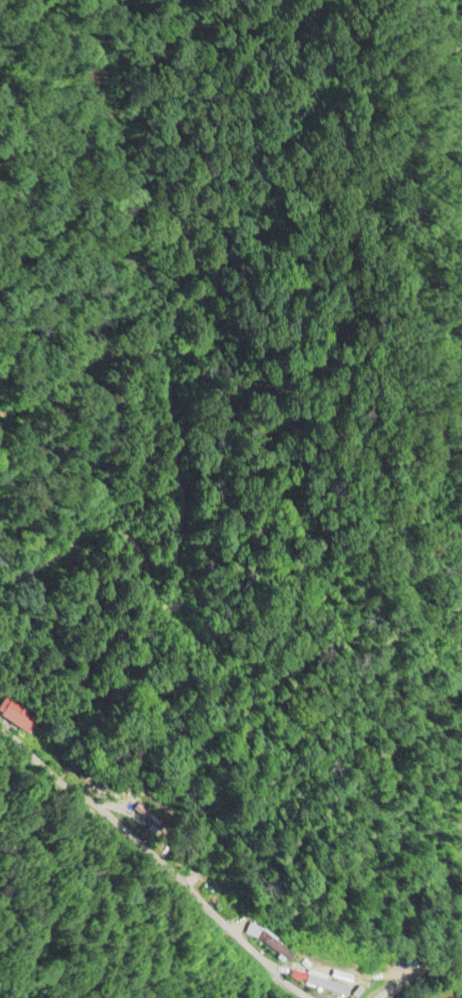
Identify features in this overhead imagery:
building: (16, 716)
road: (110, 898)
building: (277, 947)
road: (375, 963)
building: (330, 986)

